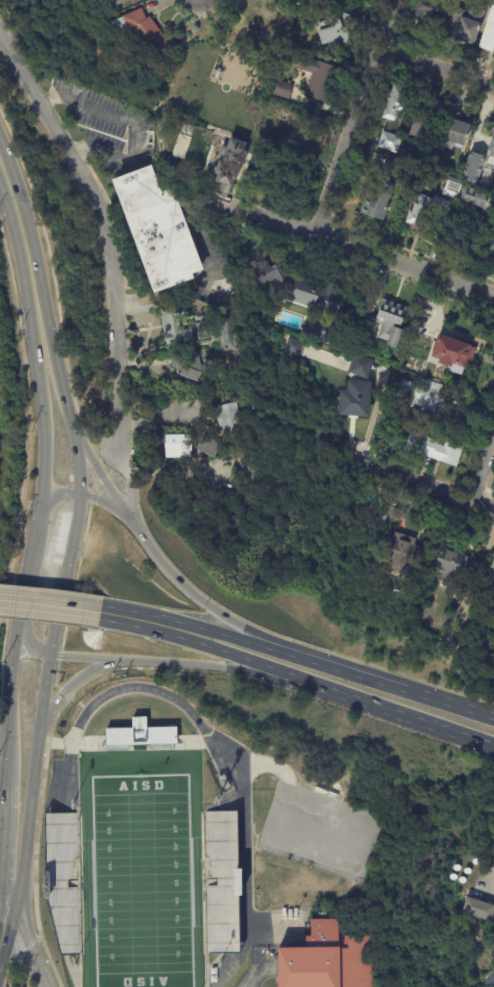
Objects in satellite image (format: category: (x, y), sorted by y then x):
building: (121, 1)
building: (430, 13)
building: (254, 19)
building: (464, 26)
building: (337, 27)
building: (488, 31)
building: (143, 33)
road: (436, 66)
building: (317, 78)
road: (437, 83)
building: (284, 89)
road: (54, 99)
building: (398, 102)
road: (356, 116)
building: (428, 119)
building: (458, 130)
building: (324, 142)
building: (391, 142)
building: (492, 147)
road: (132, 149)
building: (398, 162)
building: (231, 166)
building: (476, 168)
building: (453, 188)
building: (475, 197)
building: (378, 201)
building: (428, 211)
road: (108, 228)
building: (159, 229)
road: (303, 229)
building: (493, 249)
road: (24, 250)
road: (445, 262)
road: (443, 277)
building: (307, 298)
road: (56, 305)
building: (421, 320)
building: (392, 322)
building: (174, 325)
building: (204, 328)
building: (232, 344)
building: (294, 347)
building: (418, 351)
building: (454, 355)
building: (362, 367)
building: (189, 368)
road: (18, 384)
road: (6, 385)
building: (434, 400)
building: (357, 401)
road: (27, 418)
road: (154, 418)
building: (230, 418)
park: (9, 421)
road: (479, 443)
road: (44, 445)
building: (159, 446)
building: (179, 446)
building: (209, 446)
building: (435, 448)
road: (483, 464)
building: (254, 474)
road: (488, 479)
road: (425, 481)
road: (129, 487)
road: (489, 491)
road: (473, 492)
road: (89, 498)
building: (382, 515)
building: (402, 550)
building: (450, 563)
road: (166, 567)
building: (491, 567)
road: (26, 584)
road: (73, 585)
building: (403, 595)
road: (50, 606)
road: (57, 617)
road: (48, 620)
road: (140, 621)
road: (5, 628)
road: (284, 637)
road: (159, 640)
road: (249, 642)
road: (257, 664)
road: (167, 665)
road: (132, 667)
road: (67, 687)
road: (10, 688)
road: (405, 688)
road: (415, 719)
building: (139, 733)
road: (223, 758)
building: (225, 781)
road: (5, 830)
park: (213, 852)
building: (63, 879)
park: (141, 880)
building: (221, 881)
building: (479, 909)
road: (5, 917)
building: (480, 929)
road: (0, 937)
road: (28, 943)
building: (329, 959)
road: (10, 963)
road: (22, 964)
road: (3, 974)
road: (4, 978)

